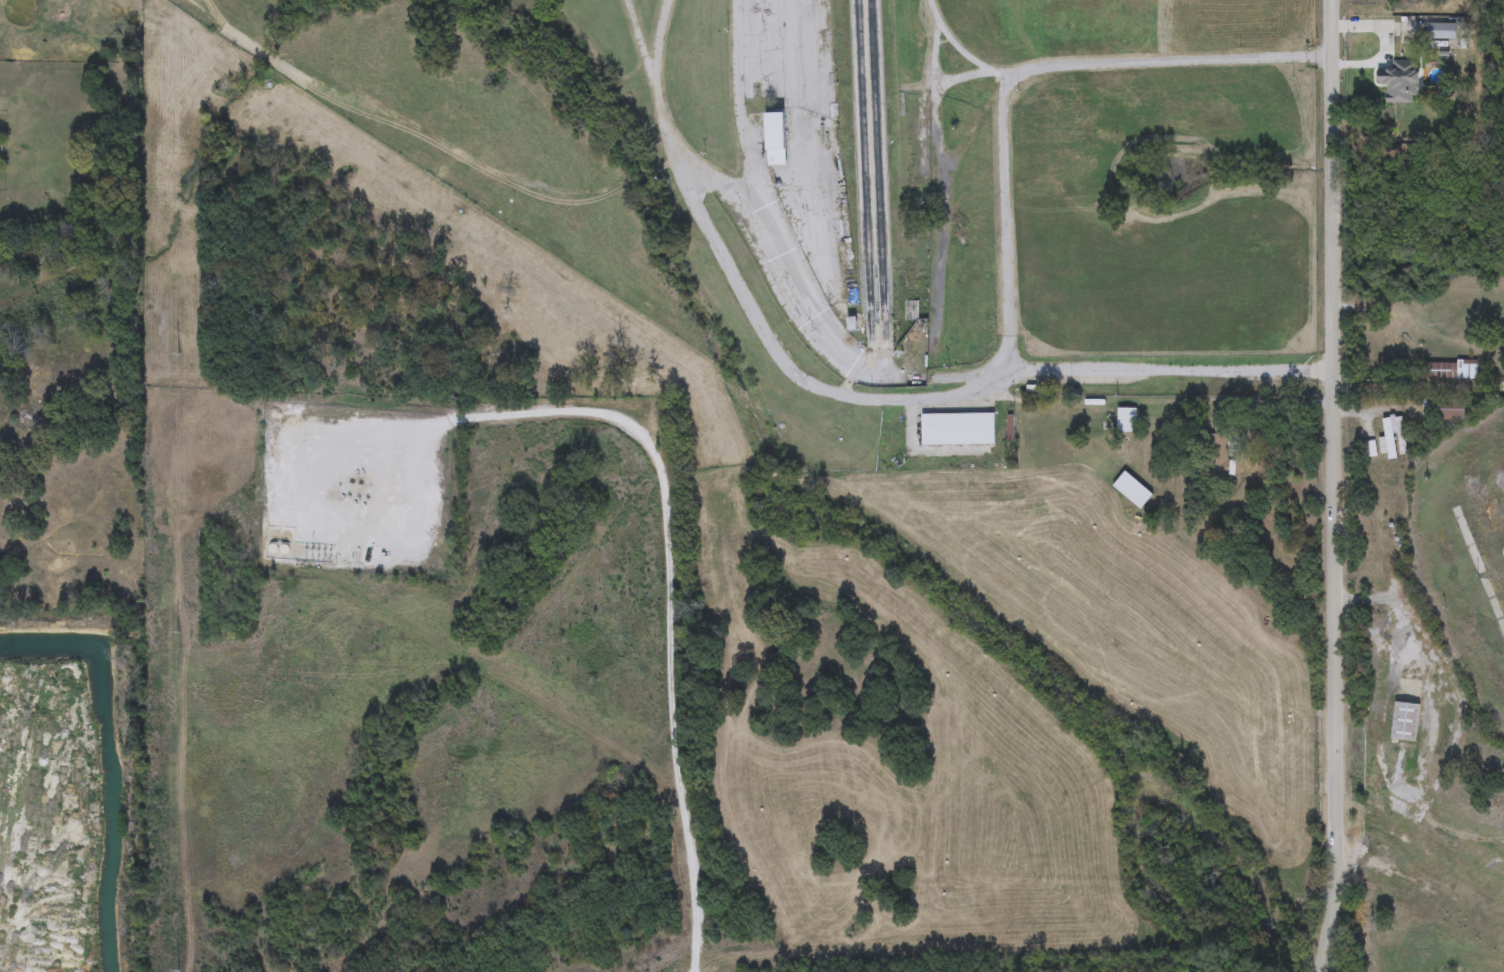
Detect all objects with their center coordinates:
road: (1331, 18)
road: (650, 41)
road: (965, 46)
building: (1430, 76)
road: (944, 89)
building: (776, 140)
road: (803, 144)
road: (881, 175)
building: (910, 180)
road: (1014, 220)
road: (800, 268)
building: (909, 276)
road: (751, 300)
road: (1418, 321)
building: (1394, 342)
building: (1449, 371)
road: (1418, 386)
building: (1452, 411)
building: (1096, 419)
building: (1126, 421)
building: (957, 430)
building: (1391, 436)
building: (1369, 450)
building: (1090, 453)
building: (1220, 453)
building: (1131, 485)
road: (1334, 504)
building: (1405, 722)

